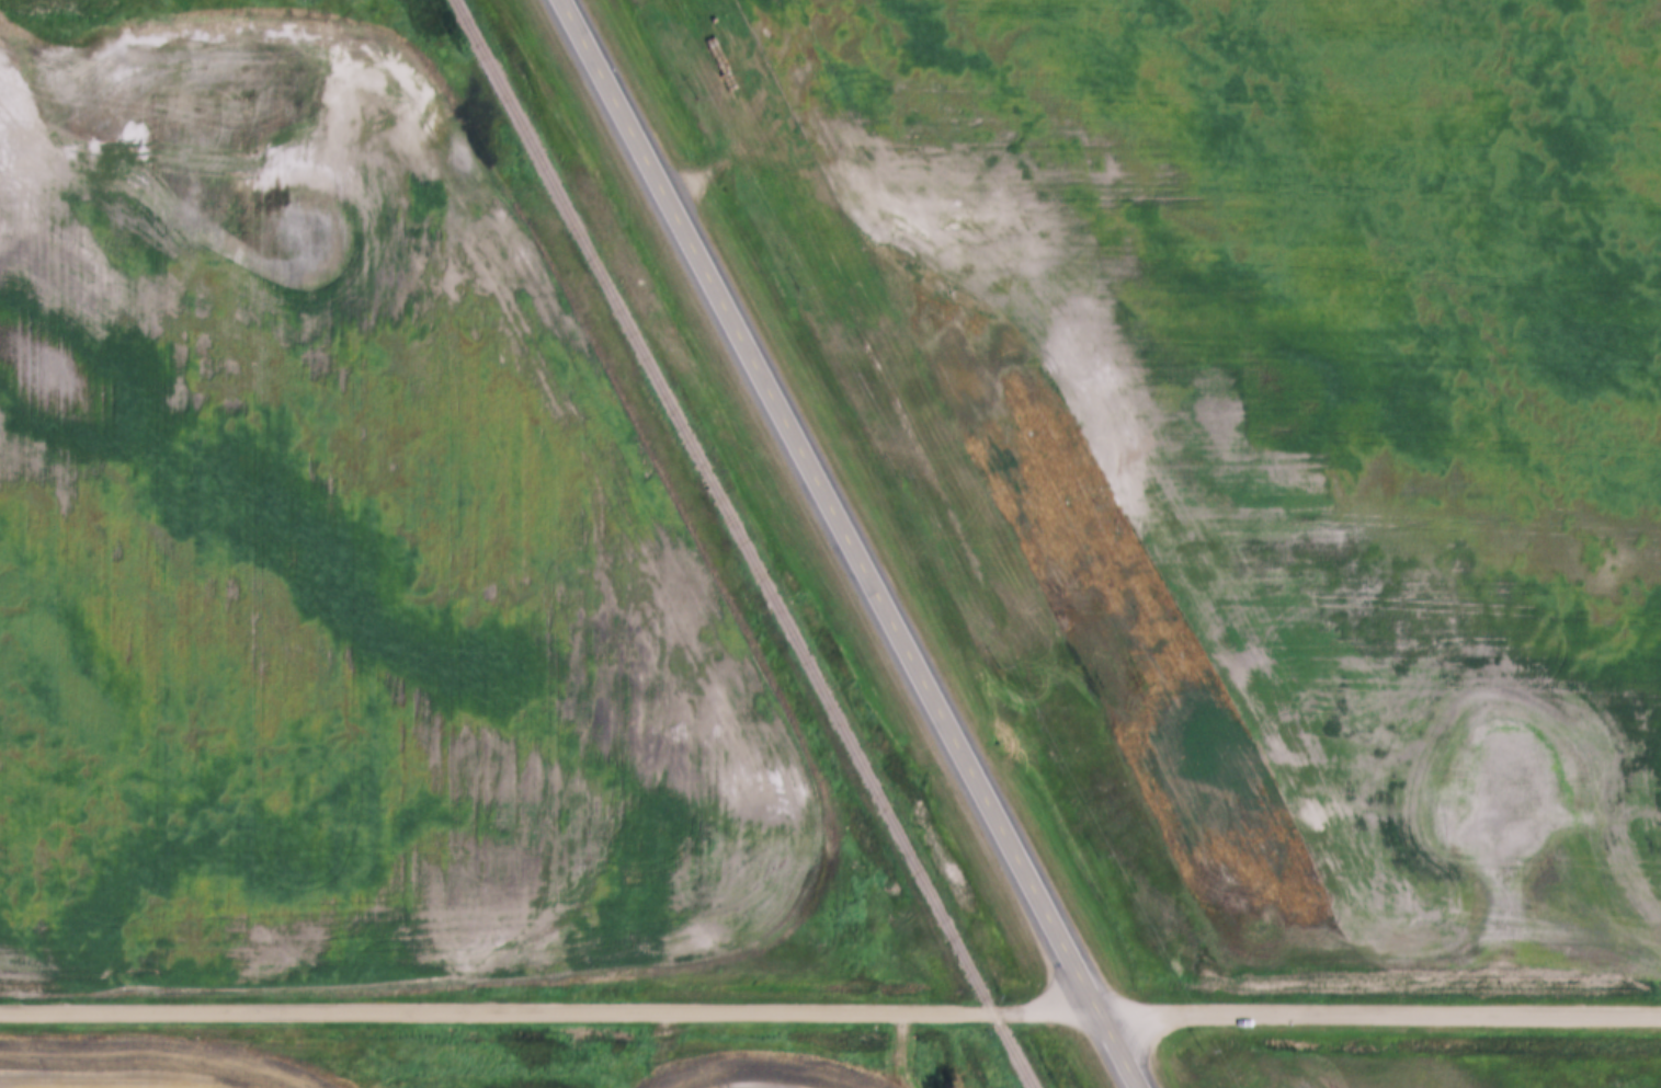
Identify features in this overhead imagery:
railway: (739, 543)
road: (844, 543)
road: (830, 1011)

